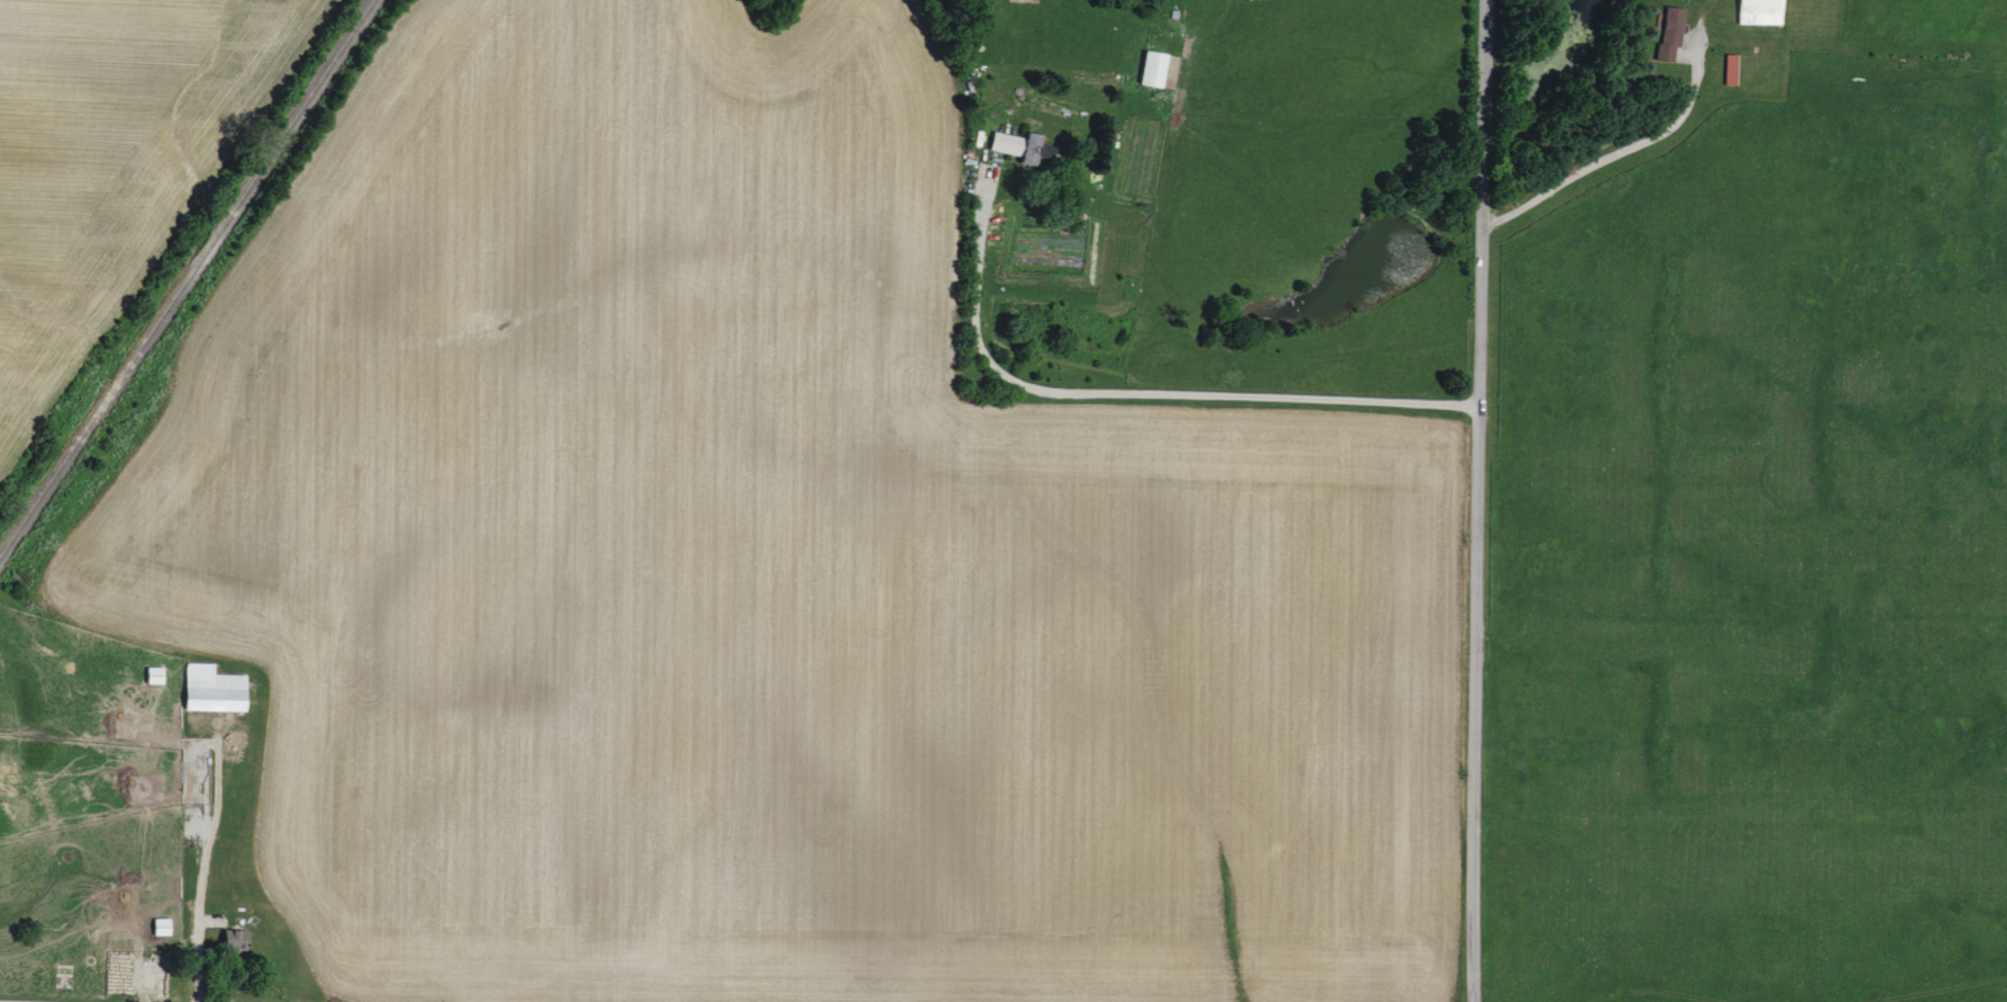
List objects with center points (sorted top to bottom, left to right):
building: (1754, 11)
building: (1666, 32)
building: (1147, 68)
building: (1017, 147)
road: (1613, 154)
railway: (186, 278)
road: (1141, 396)
road: (1477, 501)
building: (215, 689)
road: (196, 929)
building: (237, 941)

